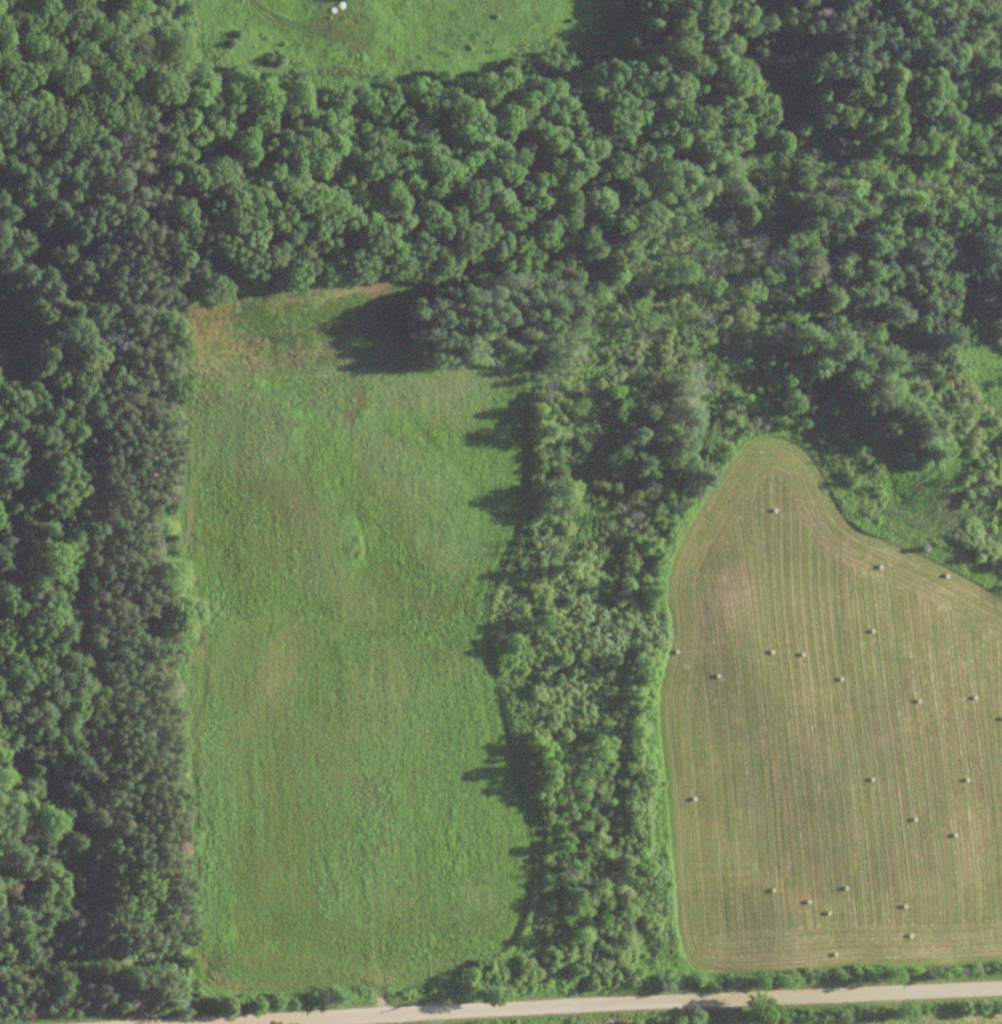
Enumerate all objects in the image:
road: (501, 1008)

